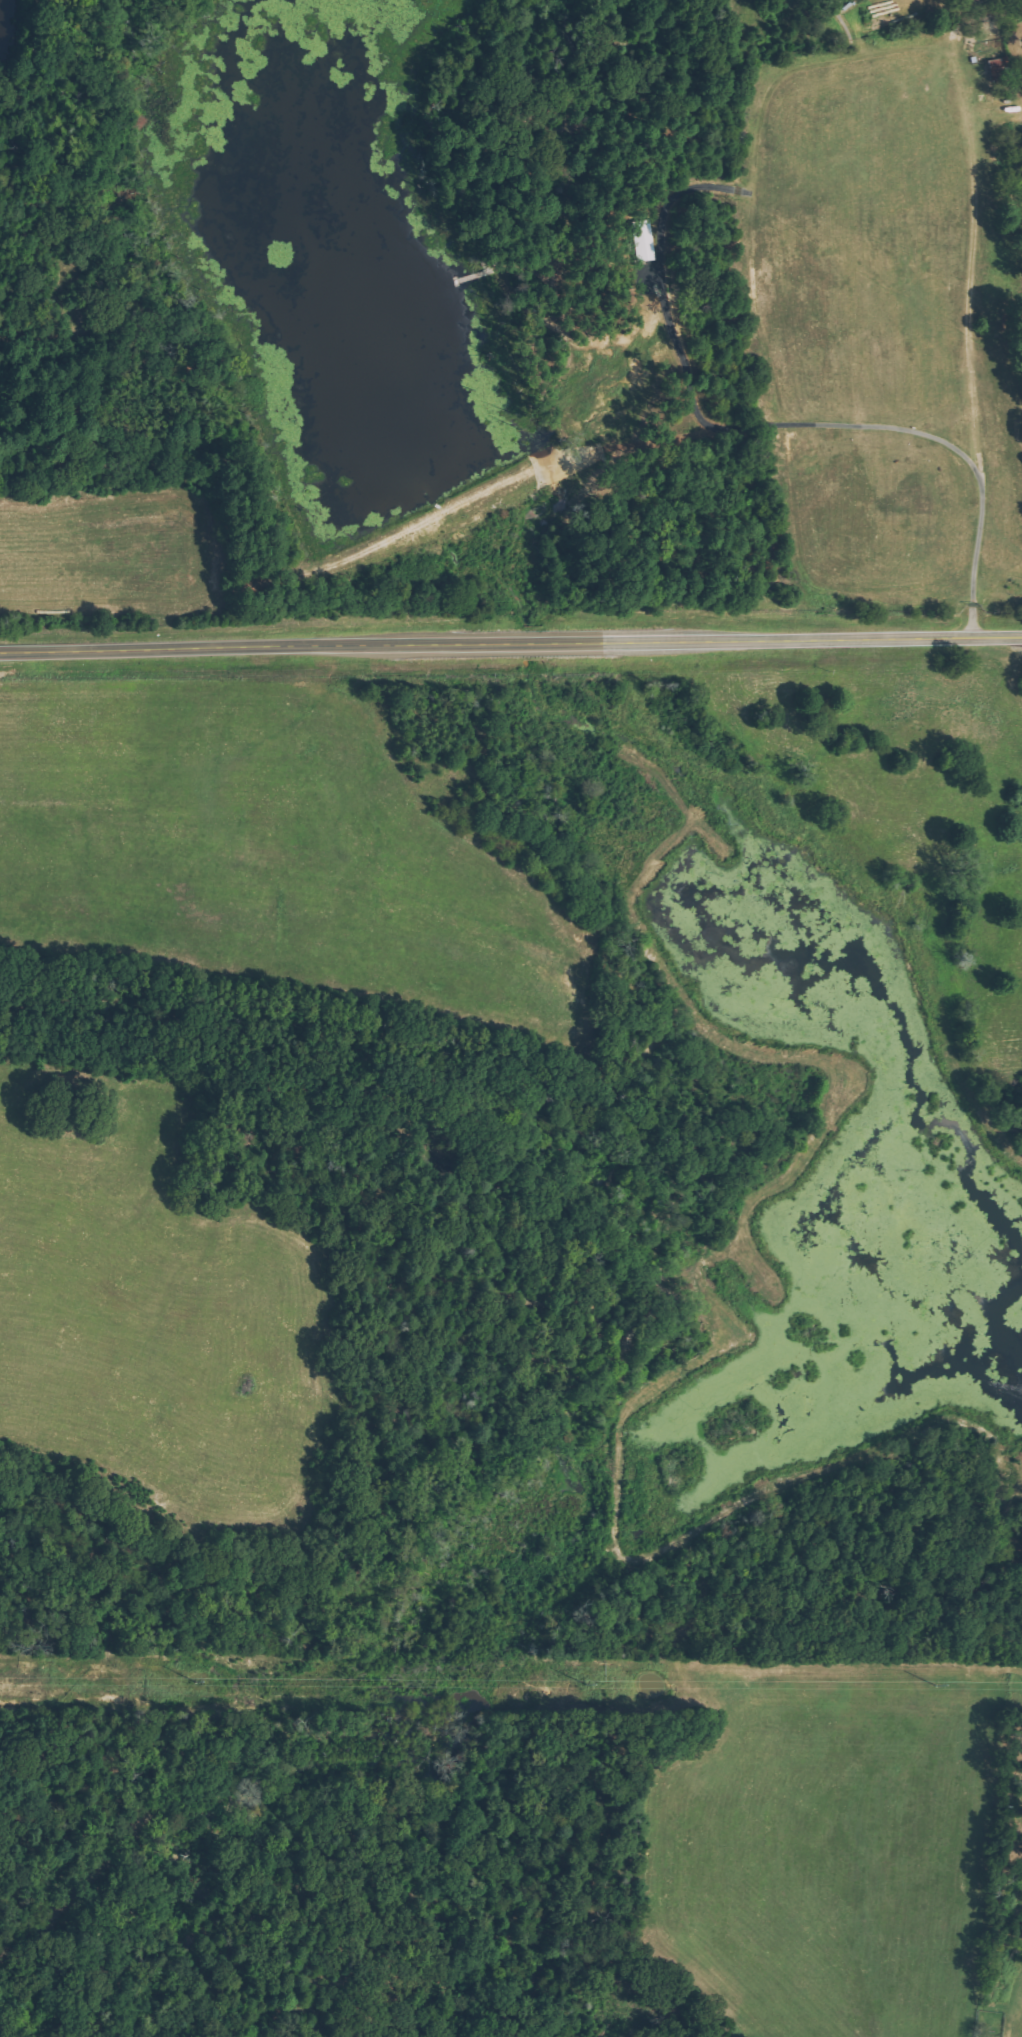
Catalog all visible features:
building: (641, 241)
road: (510, 640)
power tower: (198, 1683)
power tower: (589, 1683)
power tower: (937, 1685)

